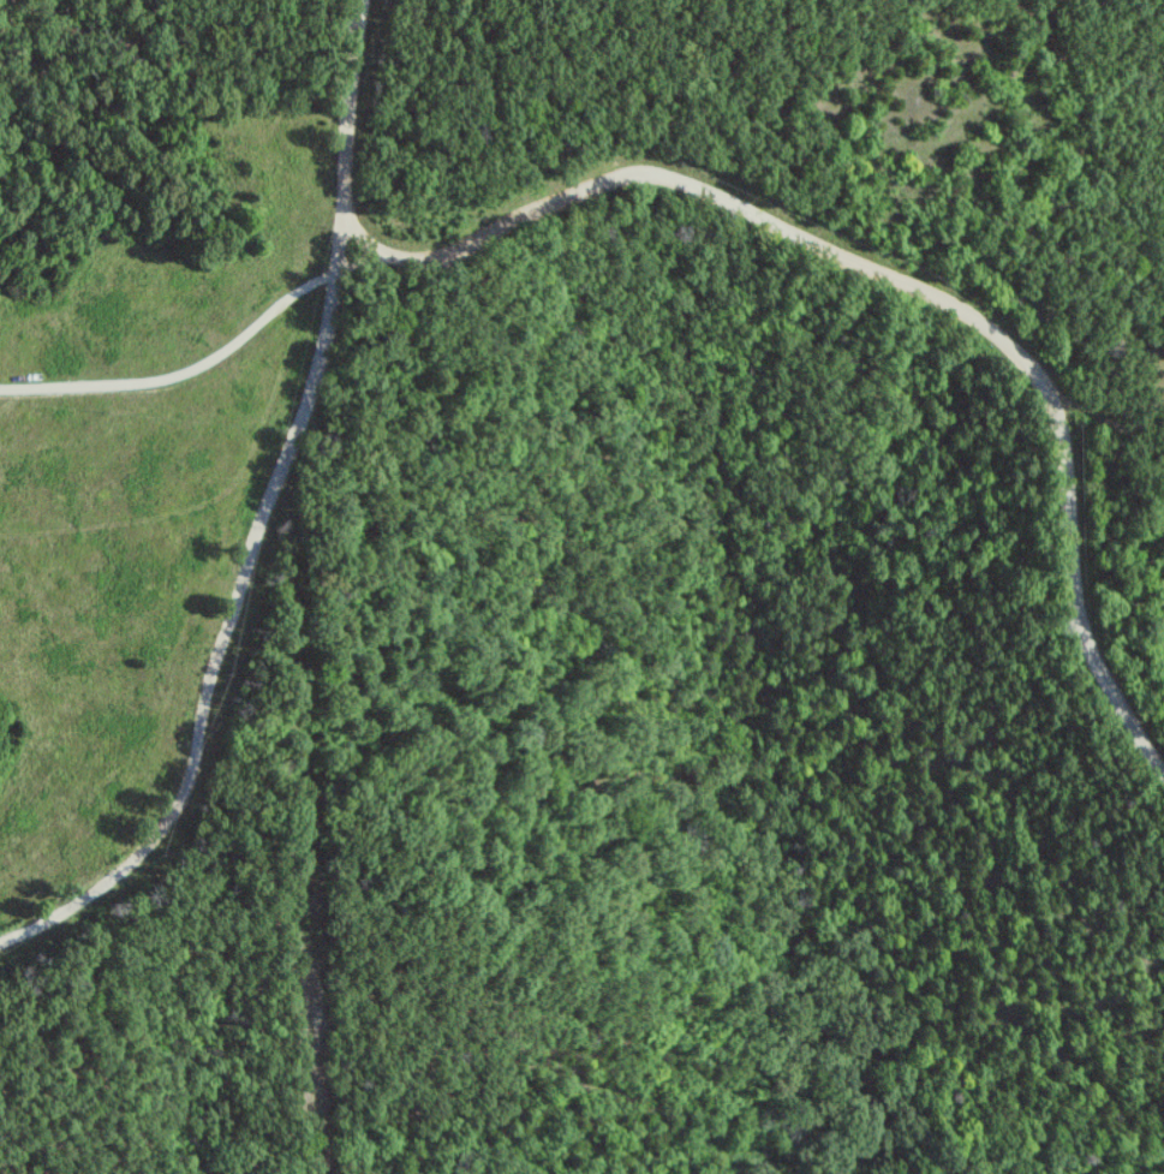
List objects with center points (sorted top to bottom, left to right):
road: (341, 124)
road: (897, 281)
road: (181, 363)
road: (225, 632)

